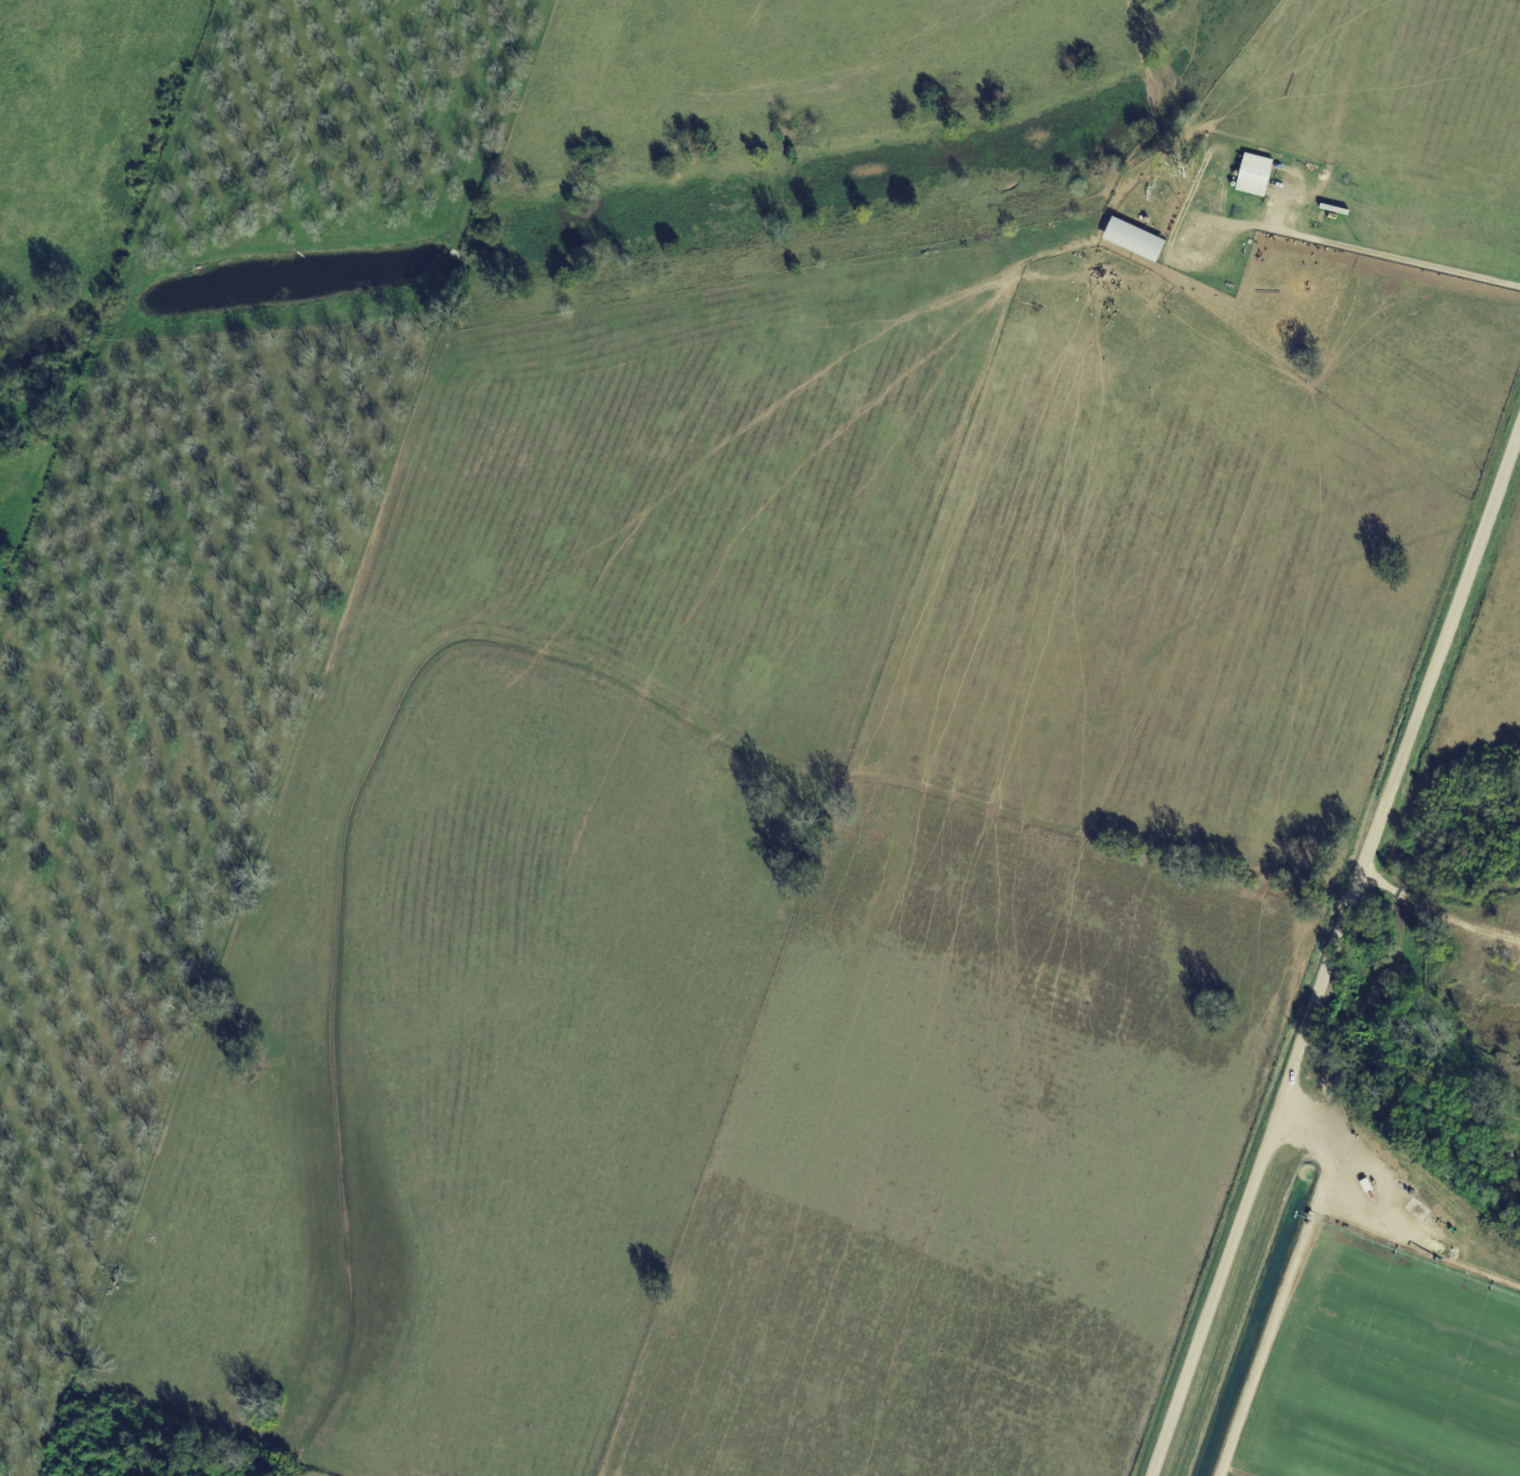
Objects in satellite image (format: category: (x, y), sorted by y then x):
building: (1256, 174)
building: (1135, 239)
road: (1364, 242)
road: (1340, 961)
road: (1322, 1101)
road: (1284, 1300)

